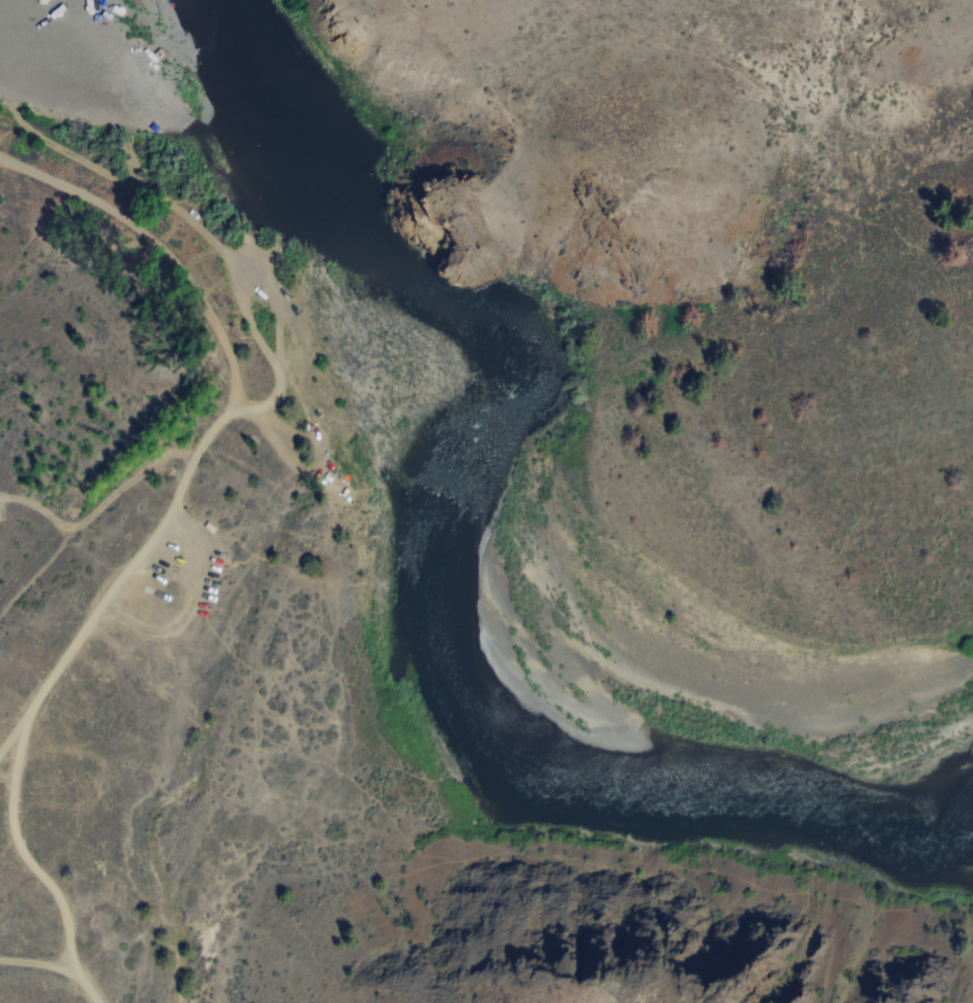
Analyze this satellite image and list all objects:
road: (251, 239)
road: (159, 249)
road: (272, 400)
parking lot: (177, 553)
river: (440, 571)
road: (19, 845)
road: (56, 965)

